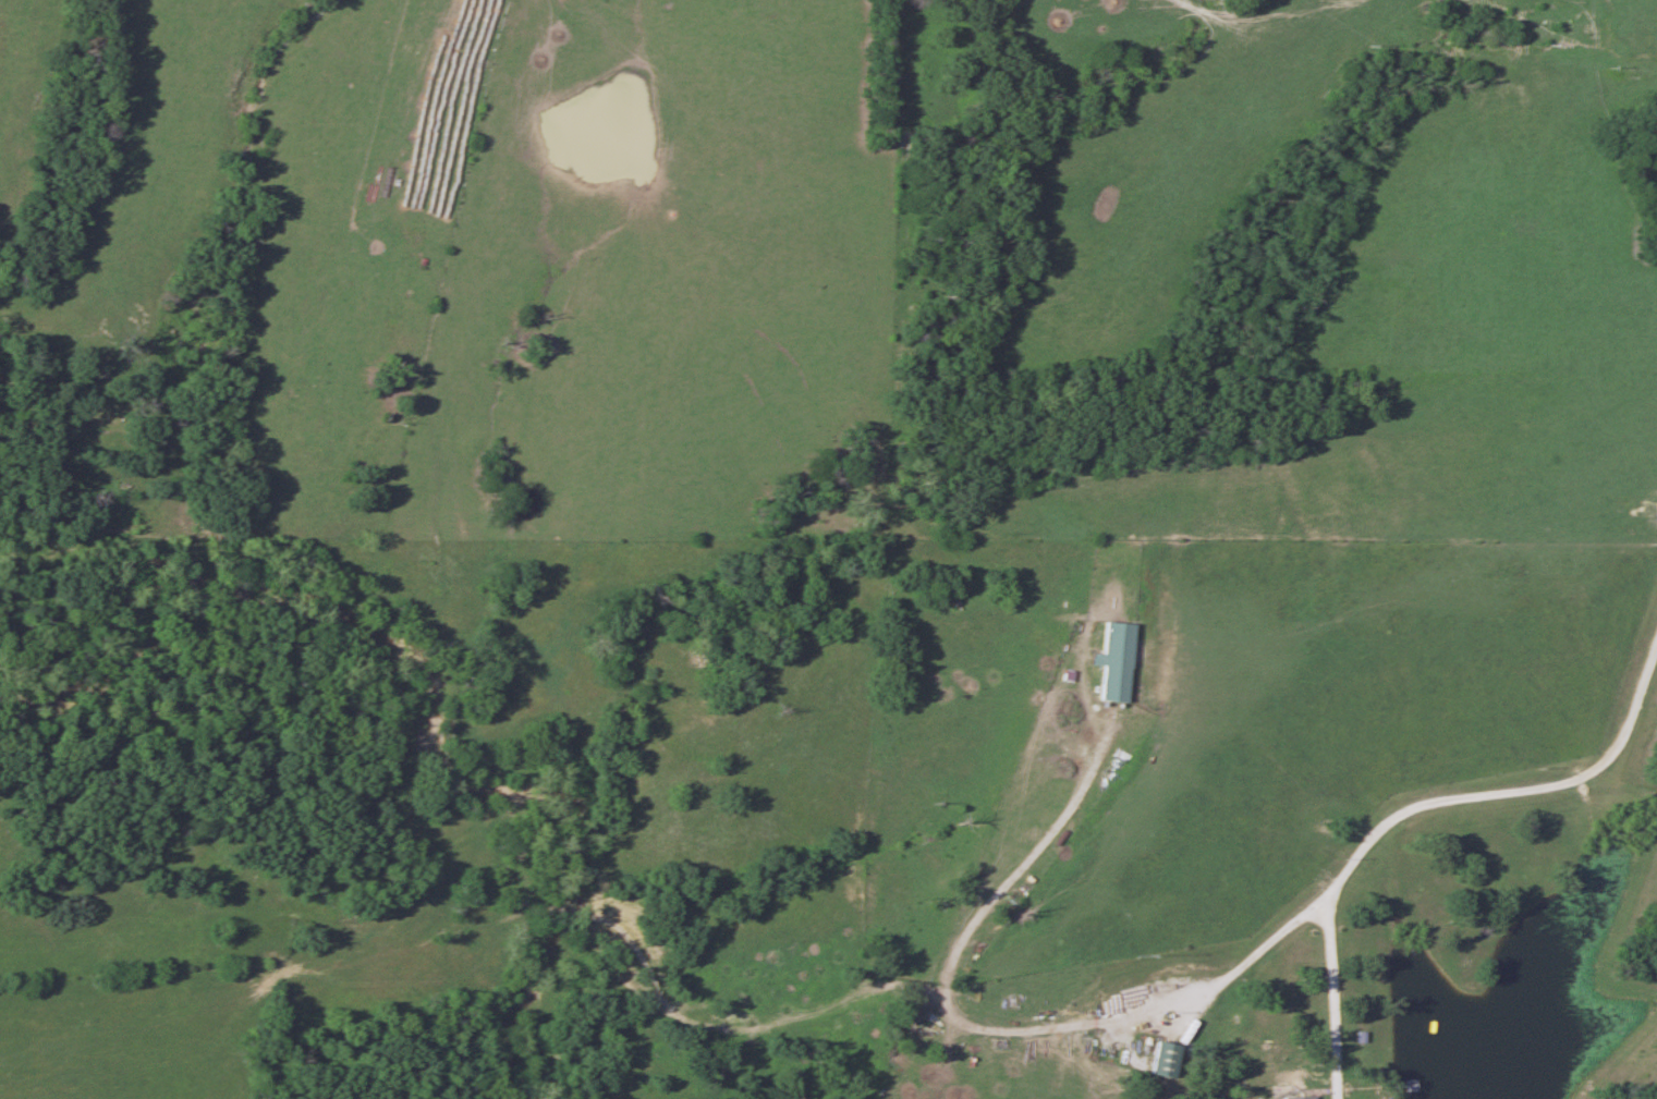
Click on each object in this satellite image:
building: (1110, 660)
road: (1415, 807)
building: (1162, 1061)
building: (1293, 1098)

